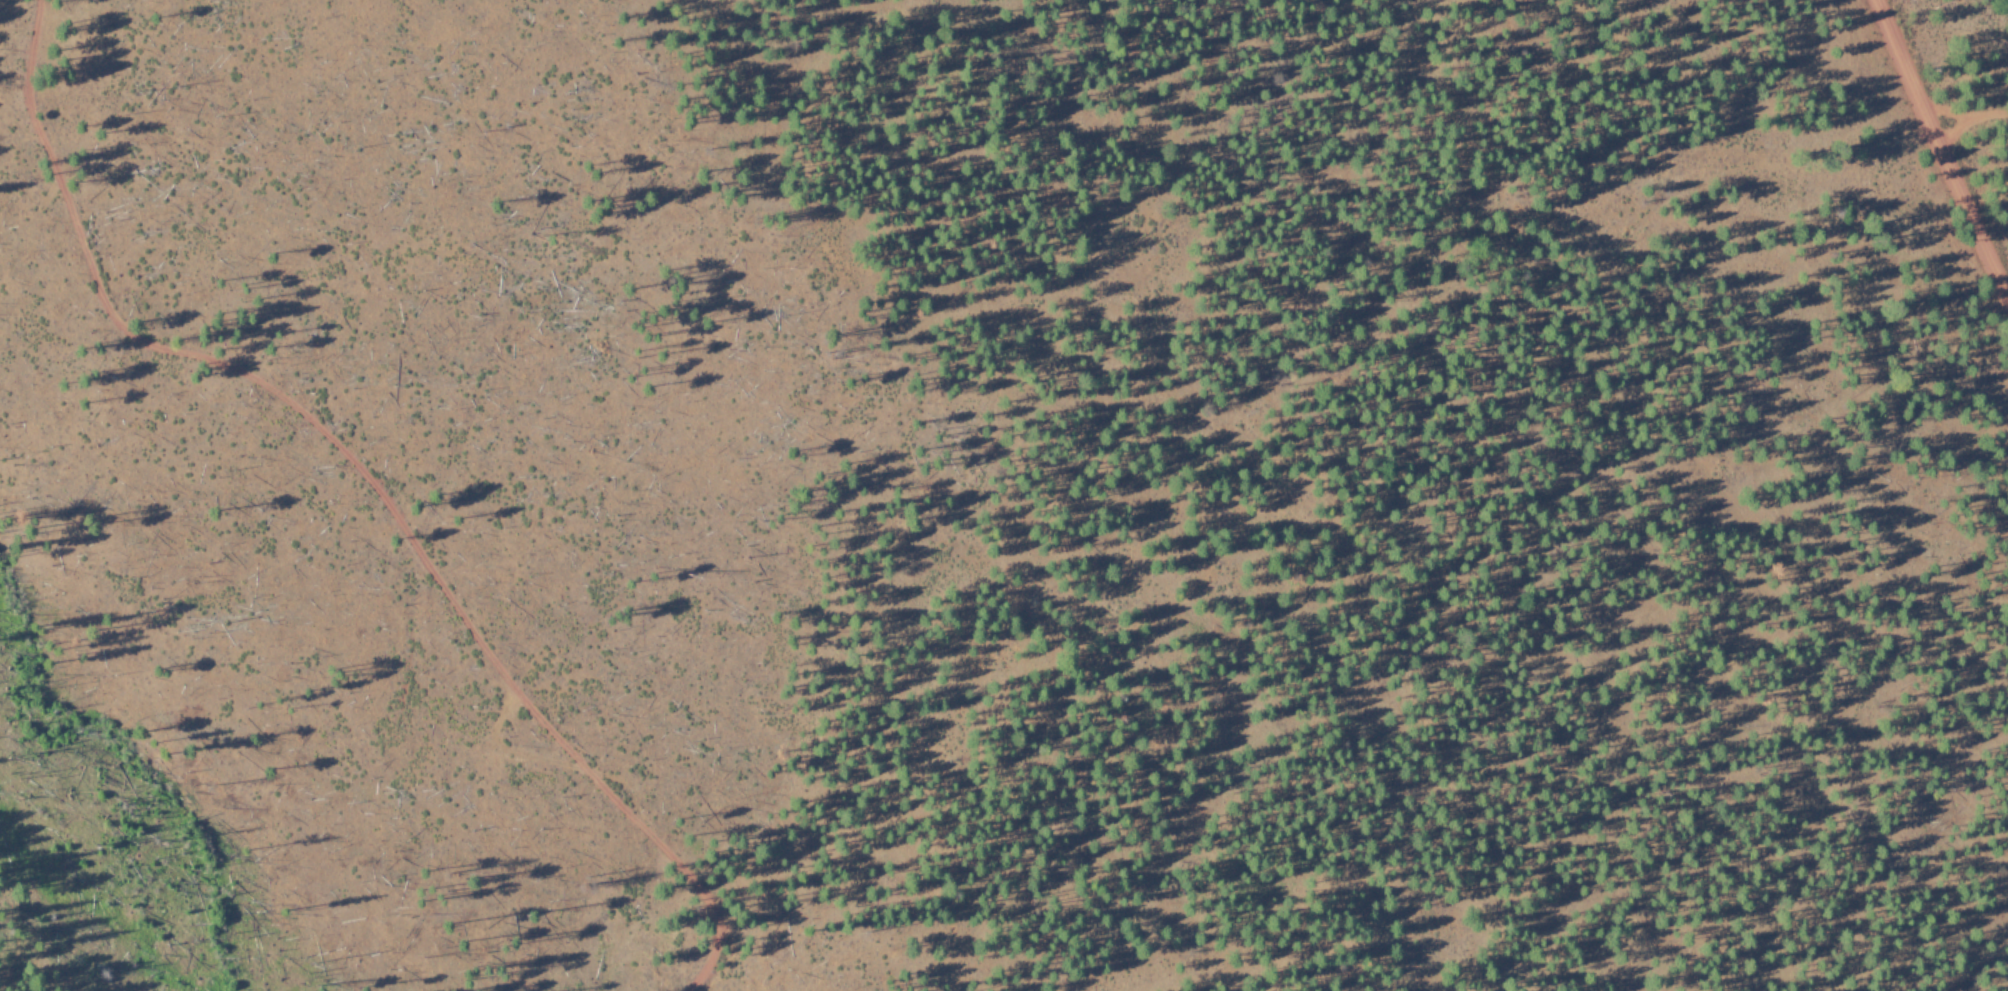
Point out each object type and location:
road: (1942, 147)
road: (372, 479)

